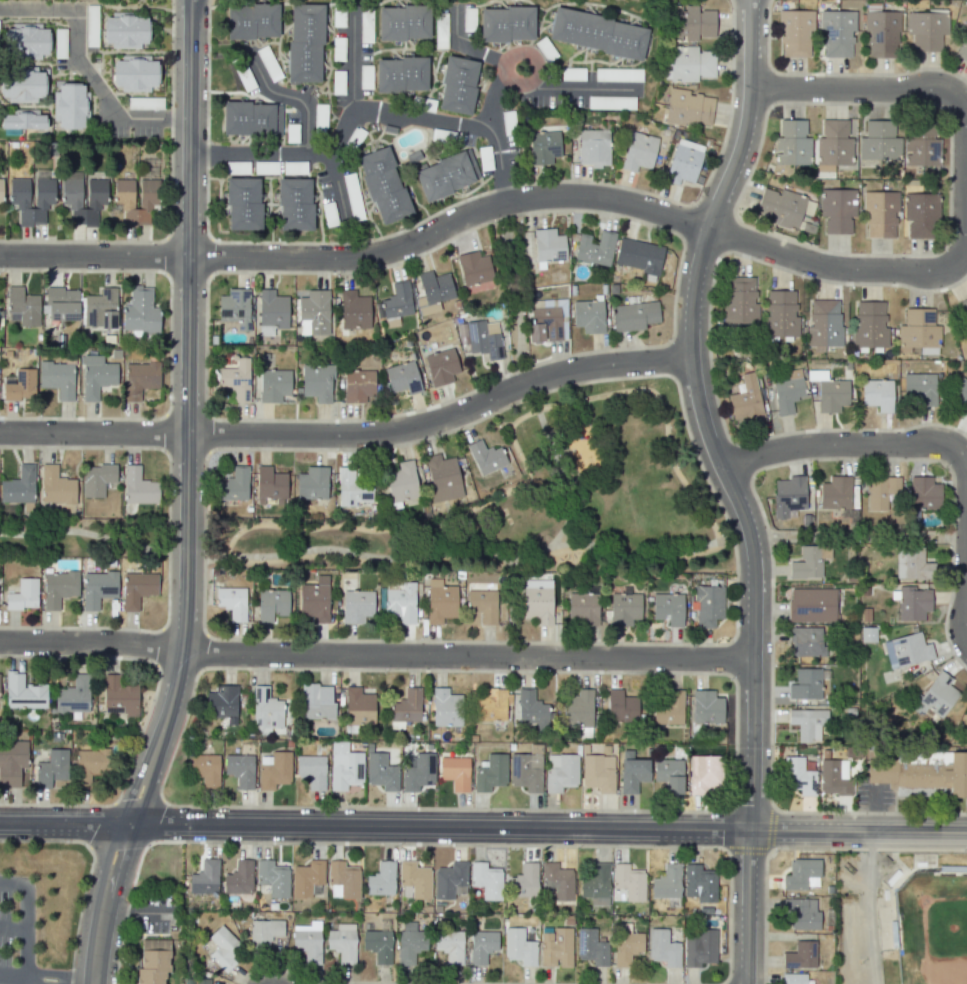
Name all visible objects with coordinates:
building: (252, 21)
building: (690, 22)
building: (404, 23)
building: (506, 24)
building: (125, 31)
building: (925, 31)
building: (795, 32)
building: (837, 32)
building: (598, 33)
building: (881, 33)
building: (26, 40)
building: (304, 43)
building: (961, 47)
building: (545, 49)
road: (494, 59)
building: (690, 64)
road: (352, 65)
road: (81, 71)
building: (134, 73)
building: (400, 74)
building: (22, 85)
building: (457, 85)
road: (557, 89)
road: (293, 95)
building: (71, 106)
building: (689, 108)
road: (364, 111)
street lamp: (209, 116)
building: (251, 119)
building: (22, 120)
building: (879, 141)
building: (792, 143)
building: (833, 145)
building: (921, 145)
building: (543, 147)
building: (593, 147)
building: (638, 151)
building: (684, 161)
building: (446, 175)
building: (383, 185)
building: (1, 189)
building: (18, 191)
building: (96, 191)
building: (123, 191)
street lamp: (691, 201)
building: (243, 203)
road: (966, 203)
building: (294, 204)
building: (781, 207)
building: (837, 209)
building: (879, 214)
building: (921, 215)
street lamp: (493, 223)
building: (548, 246)
building: (595, 248)
road: (361, 257)
building: (639, 257)
building: (474, 268)
street lamp: (211, 277)
building: (433, 291)
building: (740, 300)
building: (396, 301)
building: (61, 304)
building: (23, 306)
building: (235, 308)
building: (100, 309)
building: (962, 309)
building: (354, 310)
building: (140, 311)
building: (271, 312)
building: (314, 313)
building: (780, 314)
building: (588, 315)
building: (633, 315)
building: (547, 320)
building: (824, 323)
building: (869, 325)
building: (917, 330)
building: (481, 338)
building: (441, 366)
building: (96, 376)
building: (402, 377)
building: (57, 379)
building: (140, 379)
building: (236, 379)
building: (317, 381)
building: (20, 385)
building: (274, 385)
building: (358, 385)
building: (921, 387)
building: (788, 392)
building: (877, 394)
building: (960, 394)
building: (745, 400)
road: (186, 415)
road: (442, 418)
road: (92, 433)
road: (853, 443)
street lamp: (332, 452)
street lamp: (210, 454)
building: (485, 457)
road: (520, 459)
street lamp: (943, 466)
building: (442, 478)
street lamp: (753, 478)
building: (97, 479)
building: (401, 482)
building: (269, 484)
building: (234, 485)
building: (313, 485)
building: (19, 486)
building: (56, 486)
road: (731, 486)
building: (138, 487)
building: (353, 488)
building: (881, 492)
building: (835, 493)
building: (924, 493)
building: (788, 495)
park: (534, 500)
park: (863, 536)
park: (82, 538)
road: (113, 538)
road: (596, 549)
building: (809, 561)
building: (913, 564)
building: (58, 588)
building: (98, 588)
building: (137, 588)
road: (965, 592)
building: (23, 595)
building: (315, 600)
building: (537, 600)
building: (440, 601)
building: (232, 602)
building: (401, 603)
building: (912, 603)
building: (271, 604)
building: (482, 605)
building: (708, 605)
building: (812, 605)
building: (356, 606)
building: (583, 608)
building: (624, 608)
building: (668, 608)
building: (806, 641)
road: (90, 643)
building: (906, 650)
road: (467, 655)
street lamp: (200, 674)
street lamp: (728, 680)
building: (805, 684)
building: (23, 692)
building: (938, 694)
building: (73, 696)
building: (119, 696)
building: (317, 701)
building: (221, 702)
building: (490, 705)
building: (621, 706)
building: (358, 707)
building: (530, 707)
building: (667, 707)
building: (707, 707)
building: (405, 708)
building: (446, 708)
building: (577, 708)
building: (268, 712)
building: (808, 723)
building: (11, 762)
building: (90, 765)
building: (344, 766)
building: (51, 768)
building: (206, 769)
building: (239, 770)
building: (274, 770)
building: (311, 770)
building: (526, 771)
building: (922, 771)
building: (381, 772)
building: (418, 772)
building: (455, 772)
building: (490, 772)
building: (560, 772)
building: (598, 772)
building: (632, 772)
building: (703, 772)
building: (669, 774)
building: (798, 776)
building: (834, 777)
road: (63, 822)
road: (438, 826)
road: (857, 831)
street lamp: (221, 844)
street lamp: (396, 845)
street lamp: (150, 846)
street lamp: (575, 848)
street lamp: (962, 850)
building: (801, 874)
building: (204, 878)
building: (239, 878)
building: (273, 878)
building: (307, 878)
building: (343, 879)
building: (381, 879)
building: (415, 879)
building: (450, 880)
building: (486, 880)
building: (524, 881)
building: (558, 881)
building: (629, 881)
building: (666, 882)
building: (699, 883)
building: (596, 885)
road: (103, 901)
road: (867, 908)
road: (137, 909)
building: (802, 913)
road: (25, 920)
park: (933, 926)
road: (12, 931)
building: (264, 932)
building: (342, 942)
building: (307, 944)
building: (626, 944)
building: (378, 945)
building: (410, 945)
building: (449, 945)
building: (482, 946)
building: (519, 947)
building: (556, 947)
building: (591, 947)
building: (223, 948)
building: (662, 948)
building: (700, 948)
building: (800, 955)
building: (153, 962)
building: (793, 978)
road: (39, 981)
building: (201, 981)
road: (23, 982)

